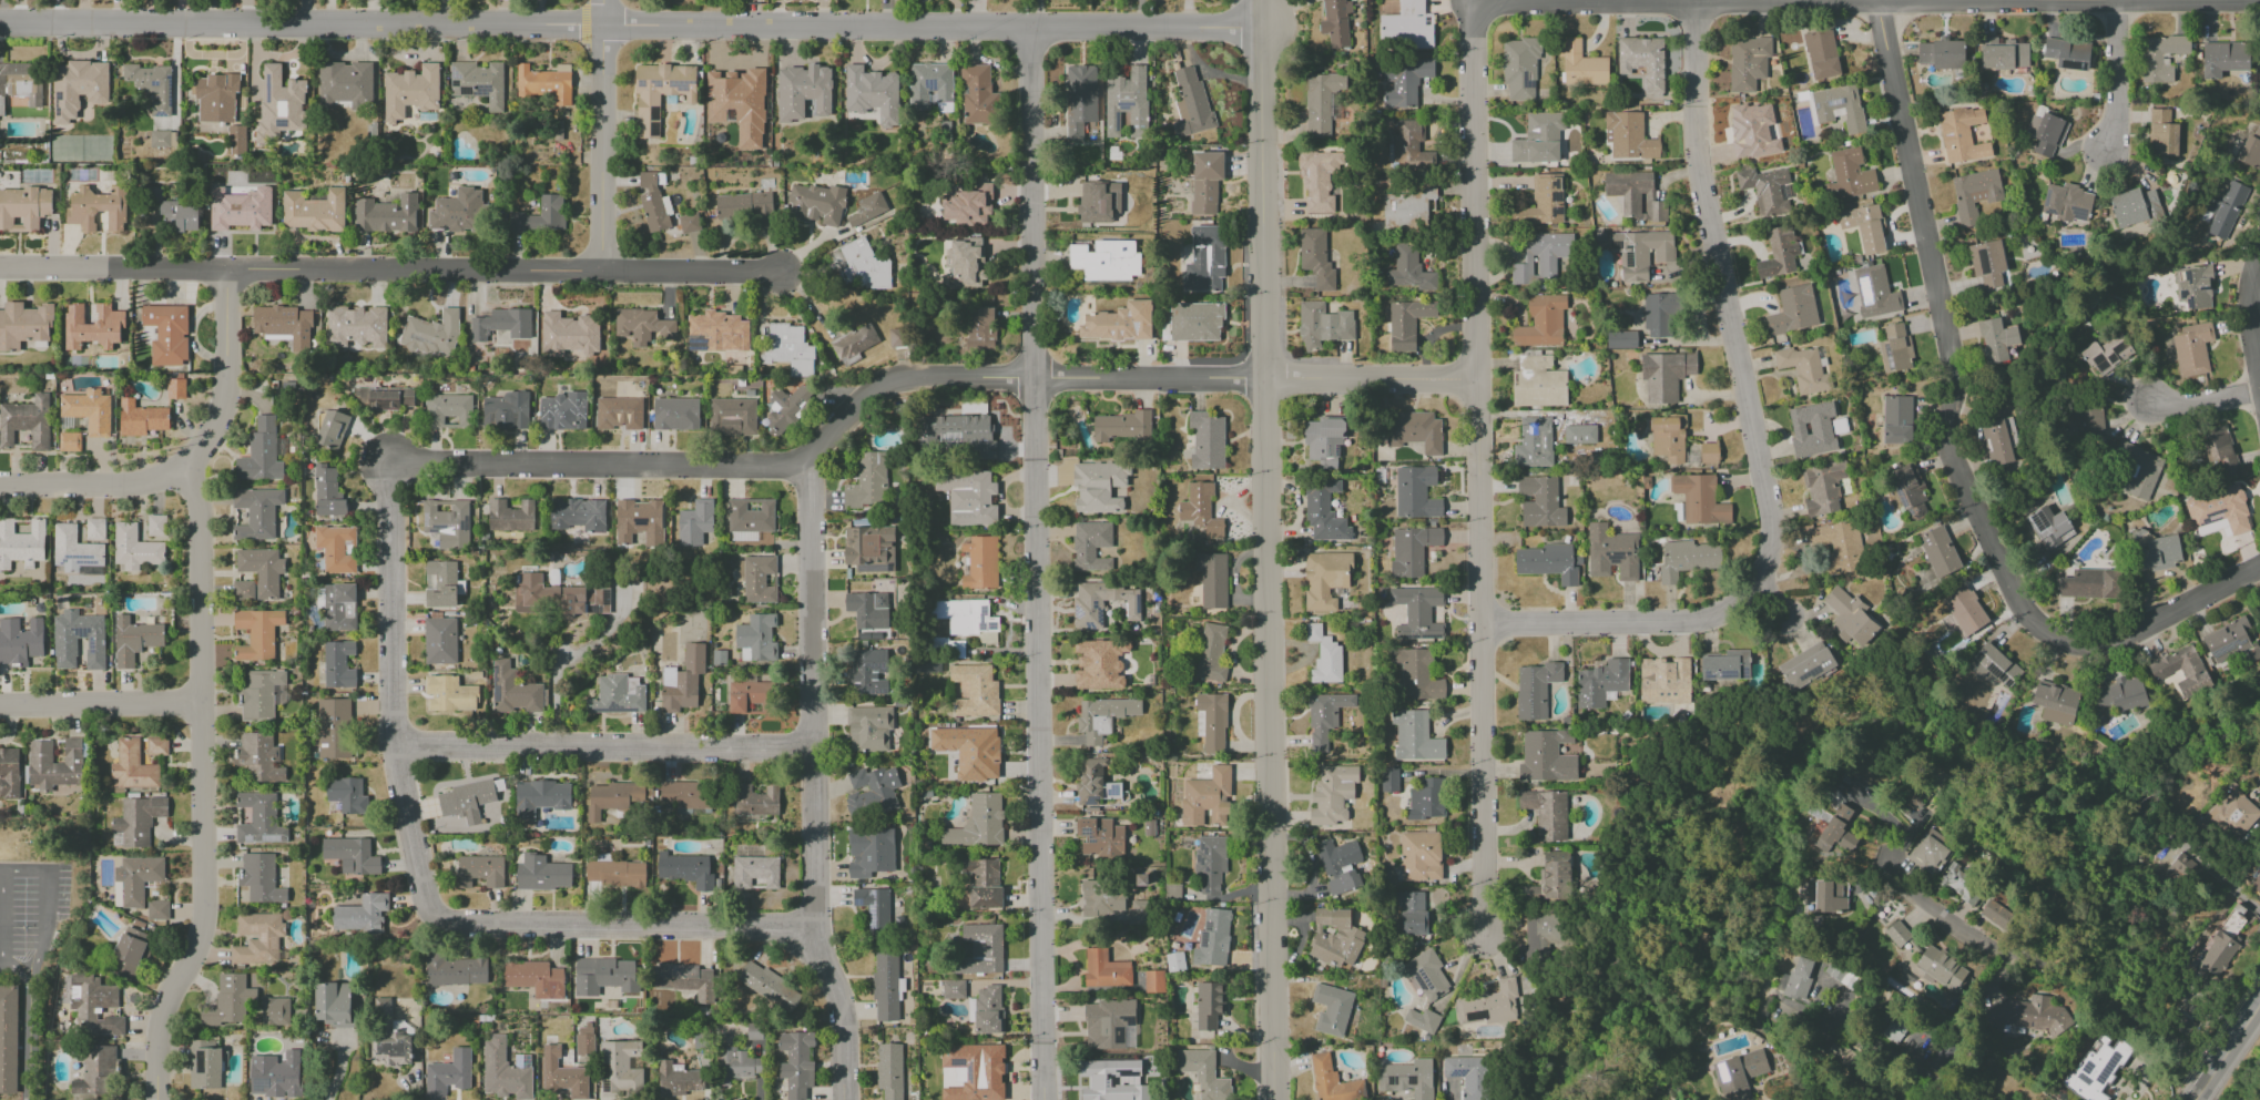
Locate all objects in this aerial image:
road: (1866, 0)
building: (1335, 23)
building: (1406, 26)
road: (631, 27)
building: (2003, 53)
building: (2067, 53)
building: (1821, 54)
building: (1940, 54)
building: (2159, 58)
building: (2223, 59)
building: (1642, 62)
building: (1747, 62)
building: (1580, 64)
building: (1519, 69)
rooftop solar panel: (456, 74)
road: (2114, 74)
building: (1404, 81)
building: (478, 82)
building: (20, 83)
rooftop solar panel: (653, 83)
rooftop solar panel: (1527, 83)
building: (544, 84)
rooftop solar panel: (676, 84)
rooftop solar panel: (929, 84)
building: (149, 85)
rooftop solar panel: (639, 85)
building: (930, 86)
building: (78, 88)
rooftop solar panel: (480, 90)
building: (803, 91)
rooftop solar panel: (170, 92)
building: (410, 92)
building: (660, 93)
building: (872, 93)
building: (977, 95)
building: (215, 98)
building: (1124, 98)
building: (1080, 99)
building: (1190, 102)
building: (1321, 102)
building: (279, 103)
building: (739, 103)
rooftop solar panel: (1836, 103)
rooftop solar panel: (1819, 106)
building: (1839, 106)
rooftop solar panel: (652, 113)
rooftop solar panel: (652, 130)
building: (1753, 130)
building: (2045, 133)
building: (2161, 134)
building: (1962, 135)
building: (1628, 136)
road: (600, 137)
building: (159, 139)
building: (1538, 139)
building: (236, 140)
building: (1408, 149)
building: (2250, 150)
building: (1849, 175)
building: (1319, 180)
building: (1205, 182)
rooftop solar panel: (1555, 184)
building: (1764, 190)
building: (1974, 194)
building: (1633, 195)
rooftop solar panel: (1556, 197)
building: (1098, 202)
building: (1541, 202)
building: (2066, 202)
building: (653, 203)
building: (815, 204)
building: (743, 205)
building: (968, 205)
building: (2134, 206)
building: (23, 208)
building: (96, 208)
building: (240, 208)
building: (867, 208)
building: (1406, 208)
building: (2225, 210)
building: (314, 211)
rooftop solar panel: (1555, 211)
building: (458, 212)
building: (386, 214)
building: (541, 216)
building: (688, 223)
building: (1863, 227)
rooftop solar panel: (1616, 245)
building: (1640, 252)
building: (1778, 253)
building: (1540, 257)
building: (1315, 258)
building: (1204, 259)
building: (1106, 261)
building: (965, 262)
building: (1987, 263)
building: (864, 265)
building: (1408, 269)
road: (388, 274)
building: (2193, 286)
rooftop solar panel: (2205, 289)
building: (1874, 292)
rooftop solar panel: (1866, 293)
rooftop solar panel: (2182, 295)
building: (1792, 308)
building: (1657, 315)
building: (1194, 322)
building: (1541, 322)
building: (1119, 323)
building: (1406, 323)
building: (500, 324)
road: (2250, 324)
building: (24, 325)
building: (284, 325)
building: (1322, 325)
building: (92, 326)
building: (356, 326)
building: (641, 326)
building: (980, 328)
building: (716, 332)
building: (430, 333)
building: (166, 334)
building: (569, 334)
building: (897, 337)
building: (1620, 339)
building: (1996, 339)
rooftop solar panel: (699, 343)
building: (853, 344)
building: (1894, 348)
rooftop solar panel: (692, 349)
building: (787, 349)
building: (2191, 349)
building: (2106, 353)
rooftop solar panel: (1891, 358)
rooftop solar panel: (2099, 363)
building: (1803, 369)
building: (1665, 375)
road: (915, 376)
road: (228, 378)
building: (1537, 383)
building: (175, 389)
building: (384, 398)
road: (2203, 401)
building: (785, 408)
building: (88, 410)
building: (448, 410)
building: (506, 411)
building: (563, 411)
building: (618, 414)
building: (675, 414)
building: (732, 417)
building: (141, 418)
building: (1896, 419)
building: (2084, 420)
building: (27, 422)
rooftop solar panel: (1840, 426)
building: (1120, 428)
building: (332, 429)
building: (1811, 429)
building: (1414, 430)
building: (1579, 434)
building: (958, 435)
road: (1753, 436)
building: (1668, 438)
building: (1207, 440)
building: (1998, 440)
building: (69, 441)
building: (1323, 441)
building: (1534, 442)
rooftop solar panel: (1987, 444)
road: (1944, 448)
building: (2218, 450)
building: (259, 452)
building: (1708, 452)
building: (2137, 470)
road: (1478, 472)
building: (867, 482)
road: (92, 486)
building: (1098, 487)
building: (1824, 488)
building: (1908, 490)
building: (327, 492)
building: (1415, 492)
building: (967, 496)
rooftop solar panel: (1904, 497)
building: (1700, 500)
building: (1539, 501)
building: (1200, 510)
building: (1323, 512)
rooftop solar panel: (1911, 512)
building: (2218, 512)
building: (256, 513)
building: (576, 515)
building: (750, 515)
building: (510, 516)
building: (639, 521)
building: (447, 522)
rooftop solar panel: (2038, 522)
building: (694, 523)
building: (155, 526)
building: (2048, 528)
building: (94, 529)
building: (743, 536)
building: (21, 543)
building: (1090, 546)
building: (1837, 547)
building: (134, 548)
building: (334, 548)
building: (869, 549)
building: (1412, 549)
building: (74, 550)
road: (1268, 550)
building: (1937, 551)
building: (1611, 552)
building: (2158, 553)
rooftop solar panel: (78, 557)
rooftop solar panel: (1617, 559)
building: (1686, 559)
rooftop solar panel: (64, 560)
rooftop solar panel: (85, 562)
building: (980, 562)
building: (1548, 562)
rooftop solar panel: (60, 563)
road: (1036, 564)
rooftop solar panel: (871, 570)
building: (258, 573)
building: (757, 579)
building: (1211, 579)
building: (1325, 579)
building: (440, 583)
building: (2089, 584)
road: (197, 585)
building: (557, 598)
rooftop solar panel: (605, 598)
rooftop solar panel: (1137, 603)
rooftop solar panel: (1096, 604)
building: (339, 607)
rooftop solar panel: (593, 609)
building: (1963, 609)
building: (2259, 609)
building: (867, 610)
rooftop solar panel: (984, 610)
building: (1087, 610)
rooftop solar panel: (1079, 611)
building: (1417, 612)
rooftop solar panel: (1100, 614)
building: (966, 617)
building: (1850, 620)
rooftop solar panel: (983, 624)
rooftop solar panel: (990, 627)
rooftop solar panel: (1089, 627)
building: (257, 633)
rooftop solar panel: (1416, 636)
rooftop solar panel: (1427, 636)
building: (756, 638)
building: (134, 640)
building: (439, 640)
building: (20, 641)
building: (2227, 641)
building: (64, 653)
building: (1210, 653)
building: (1324, 656)
rooftop solar panel: (1983, 659)
road: (566, 661)
building: (338, 664)
building: (1099, 664)
building: (1725, 665)
building: (1806, 665)
building: (1993, 665)
building: (2181, 670)
building: (867, 673)
rooftop solar panel: (1997, 673)
building: (1416, 674)
rooftop solar panel: (2010, 680)
building: (682, 681)
building: (1665, 681)
building: (1600, 683)
building: (1535, 689)
building: (512, 691)
building: (975, 691)
building: (262, 694)
building: (448, 694)
building: (617, 694)
building: (2120, 694)
building: (749, 696)
building: (2055, 702)
road: (100, 704)
building: (1102, 716)
building: (1324, 716)
building: (1211, 722)
building: (334, 729)
building: (868, 729)
building: (1414, 736)
building: (156, 745)
road: (602, 746)
building: (969, 751)
building: (1546, 756)
building: (258, 757)
building: (54, 764)
building: (133, 766)
building: (9, 773)
building: (1389, 780)
road: (813, 781)
building: (1089, 782)
rooftop solar panel: (1113, 791)
building: (871, 792)
building: (685, 794)
building: (1332, 794)
building: (346, 795)
building: (540, 797)
building: (470, 798)
building: (613, 798)
building: (1207, 798)
rooftop solar panel: (1090, 799)
building: (1426, 799)
building: (1906, 801)
building: (754, 802)
building: (1546, 813)
building: (2233, 815)
building: (259, 819)
building: (138, 821)
building: (977, 823)
building: (1835, 833)
rooftop solar panel: (269, 838)
building: (1101, 839)
rooftop solar panel: (248, 841)
building: (869, 852)
building: (1930, 853)
building: (352, 855)
building: (1419, 856)
building: (1210, 863)
building: (1340, 865)
building: (685, 869)
building: (480, 870)
building: (755, 873)
building: (542, 874)
building: (617, 874)
road: (2234, 877)
building: (259, 878)
building: (134, 880)
building: (1550, 880)
road: (421, 883)
building: (981, 883)
building: (1959, 883)
building: (2256, 884)
building: (1102, 897)
building: (1830, 897)
rooftop solar panel: (858, 902)
road: (47, 906)
road: (203, 907)
parking lot: (35, 910)
building: (156, 910)
building: (874, 910)
building: (1137, 911)
rooftop solar panel: (872, 913)
building: (360, 914)
building: (1413, 914)
building: (1996, 915)
rooftop solar panel: (1204, 927)
building: (1540, 927)
building: (1896, 935)
building: (1334, 937)
building: (257, 938)
building: (1212, 938)
rooftop solar panel: (1201, 940)
building: (2219, 946)
building: (980, 949)
building: (130, 954)
building: (1174, 961)
building: (1941, 968)
building: (1104, 969)
building: (457, 970)
road: (17, 972)
building: (1426, 975)
building: (604, 976)
building: (535, 978)
road: (2047, 978)
building: (1795, 979)
building: (684, 980)
building: (1153, 981)
building: (768, 986)
building: (885, 986)
building: (953, 989)
building: (228, 1001)
building: (333, 1004)
building: (1208, 1005)
building: (1489, 1005)
building: (93, 1006)
building: (1331, 1009)
building: (987, 1010)
building: (275, 1011)
rooftop solar panel: (1476, 1016)
building: (2029, 1017)
building: (1422, 1019)
building: (1108, 1023)
building: (1893, 1031)
building: (388, 1038)
building: (8, 1039)
road: (28, 1042)
building: (1841, 1055)
building: (550, 1056)
road: (2229, 1056)
rooftop solar panel: (523, 1061)
rooftop solar panel: (958, 1061)
rooftop solar panel: (201, 1063)
building: (795, 1063)
building: (205, 1065)
building: (734, 1066)
road: (338, 1067)
building: (2096, 1067)
rooftop solar panel: (2090, 1068)
rooftop solar panel: (2109, 1068)
building: (620, 1069)
building: (94, 1070)
building: (505, 1070)
building: (888, 1070)
building: (973, 1071)
rooftop solar panel: (1721, 1072)
building: (448, 1073)
rooftop solar panel: (607, 1073)
rooftop solar panel: (971, 1073)
rooftop solar panel: (1456, 1073)
building: (1738, 1073)
building: (1203, 1074)
building: (1466, 1074)
building: (275, 1076)
building: (1407, 1078)
building: (676, 1080)
building: (1110, 1080)
road: (1936, 1080)
rooftop solar panel: (2086, 1080)
building: (1332, 1081)
rooftop solar panel: (261, 1083)
rooftop solar panel: (605, 1089)

